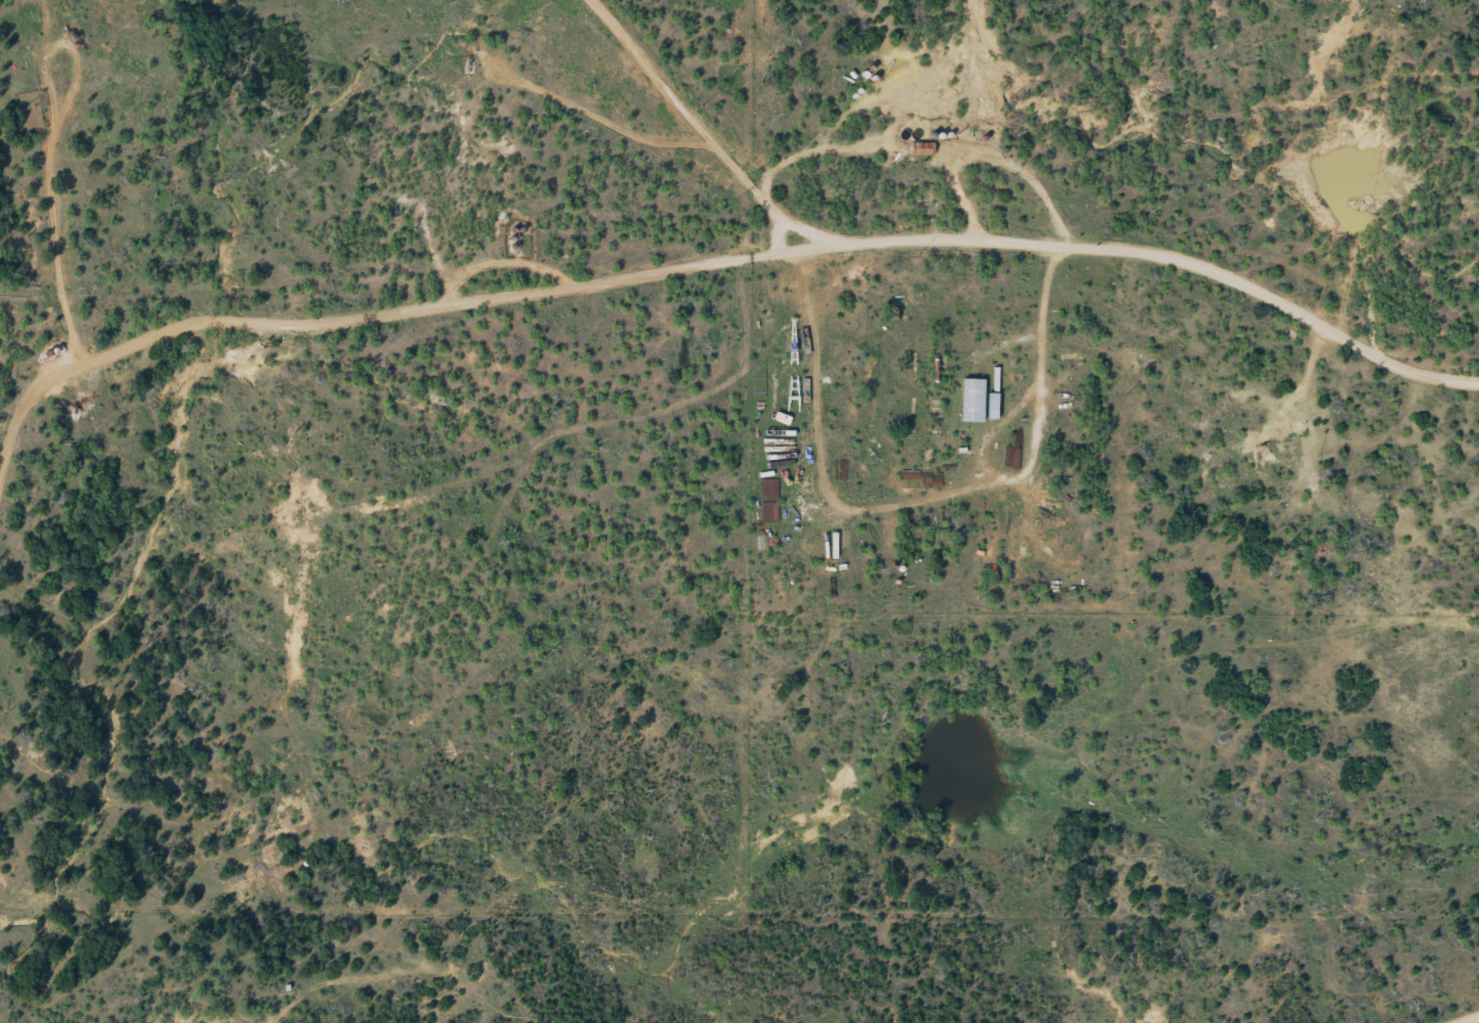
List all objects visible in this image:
road: (694, 136)
building: (920, 151)
road: (1167, 258)
road: (360, 314)
building: (969, 403)
building: (988, 409)
road: (833, 485)
road: (1473, 1021)

